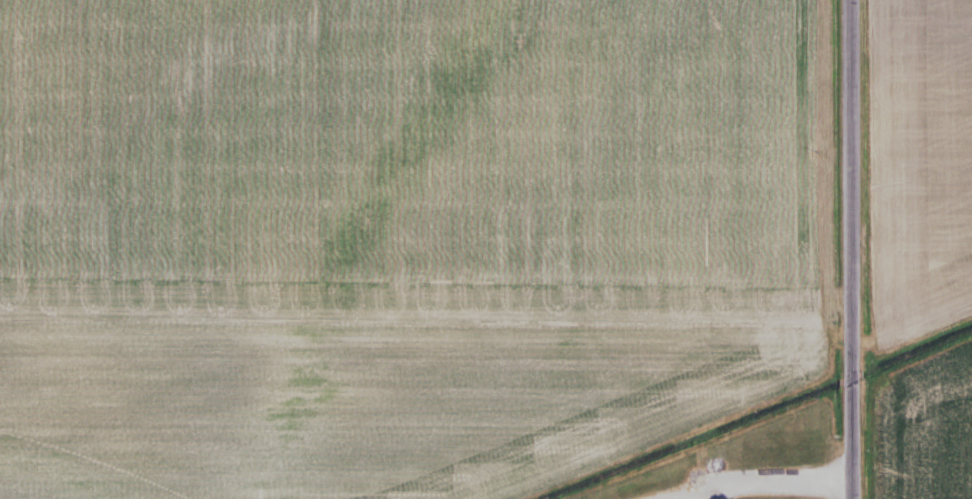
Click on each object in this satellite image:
road: (851, 249)

